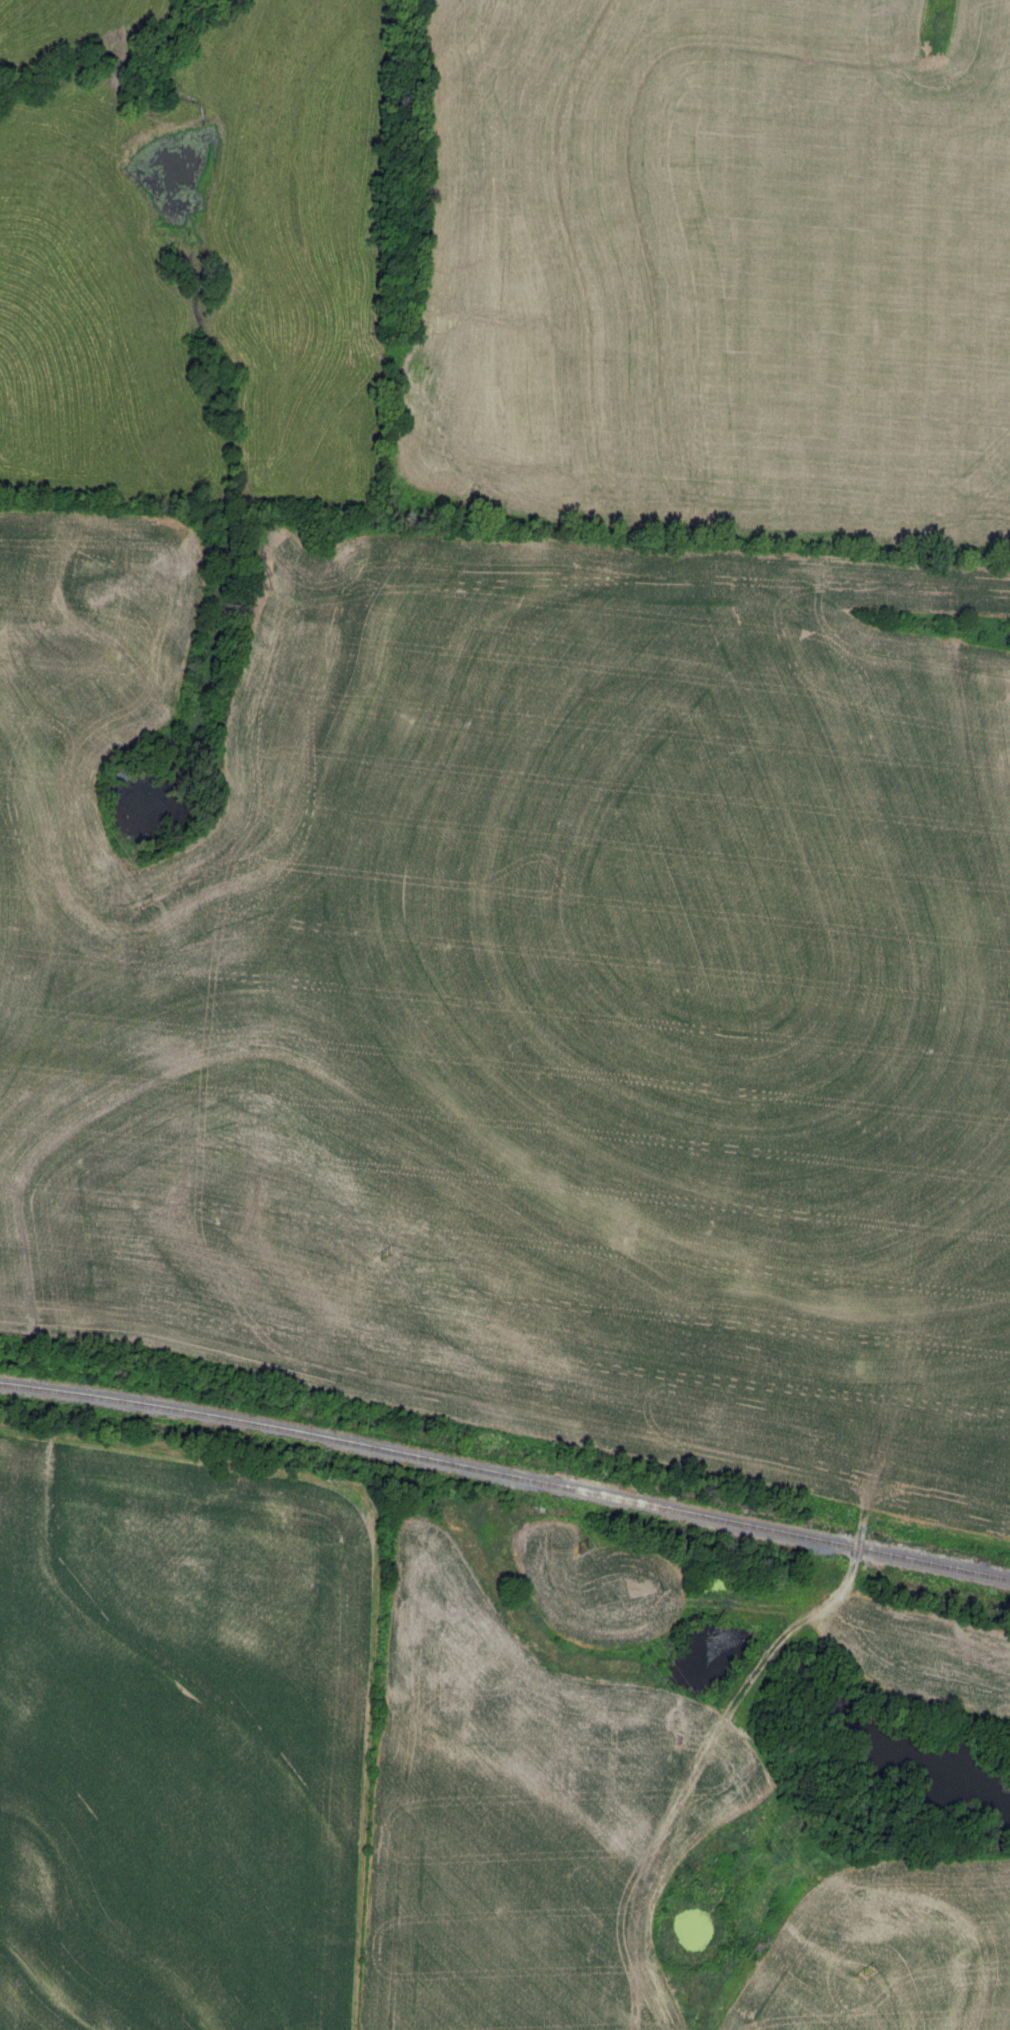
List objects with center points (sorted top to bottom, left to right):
railway: (506, 1479)

